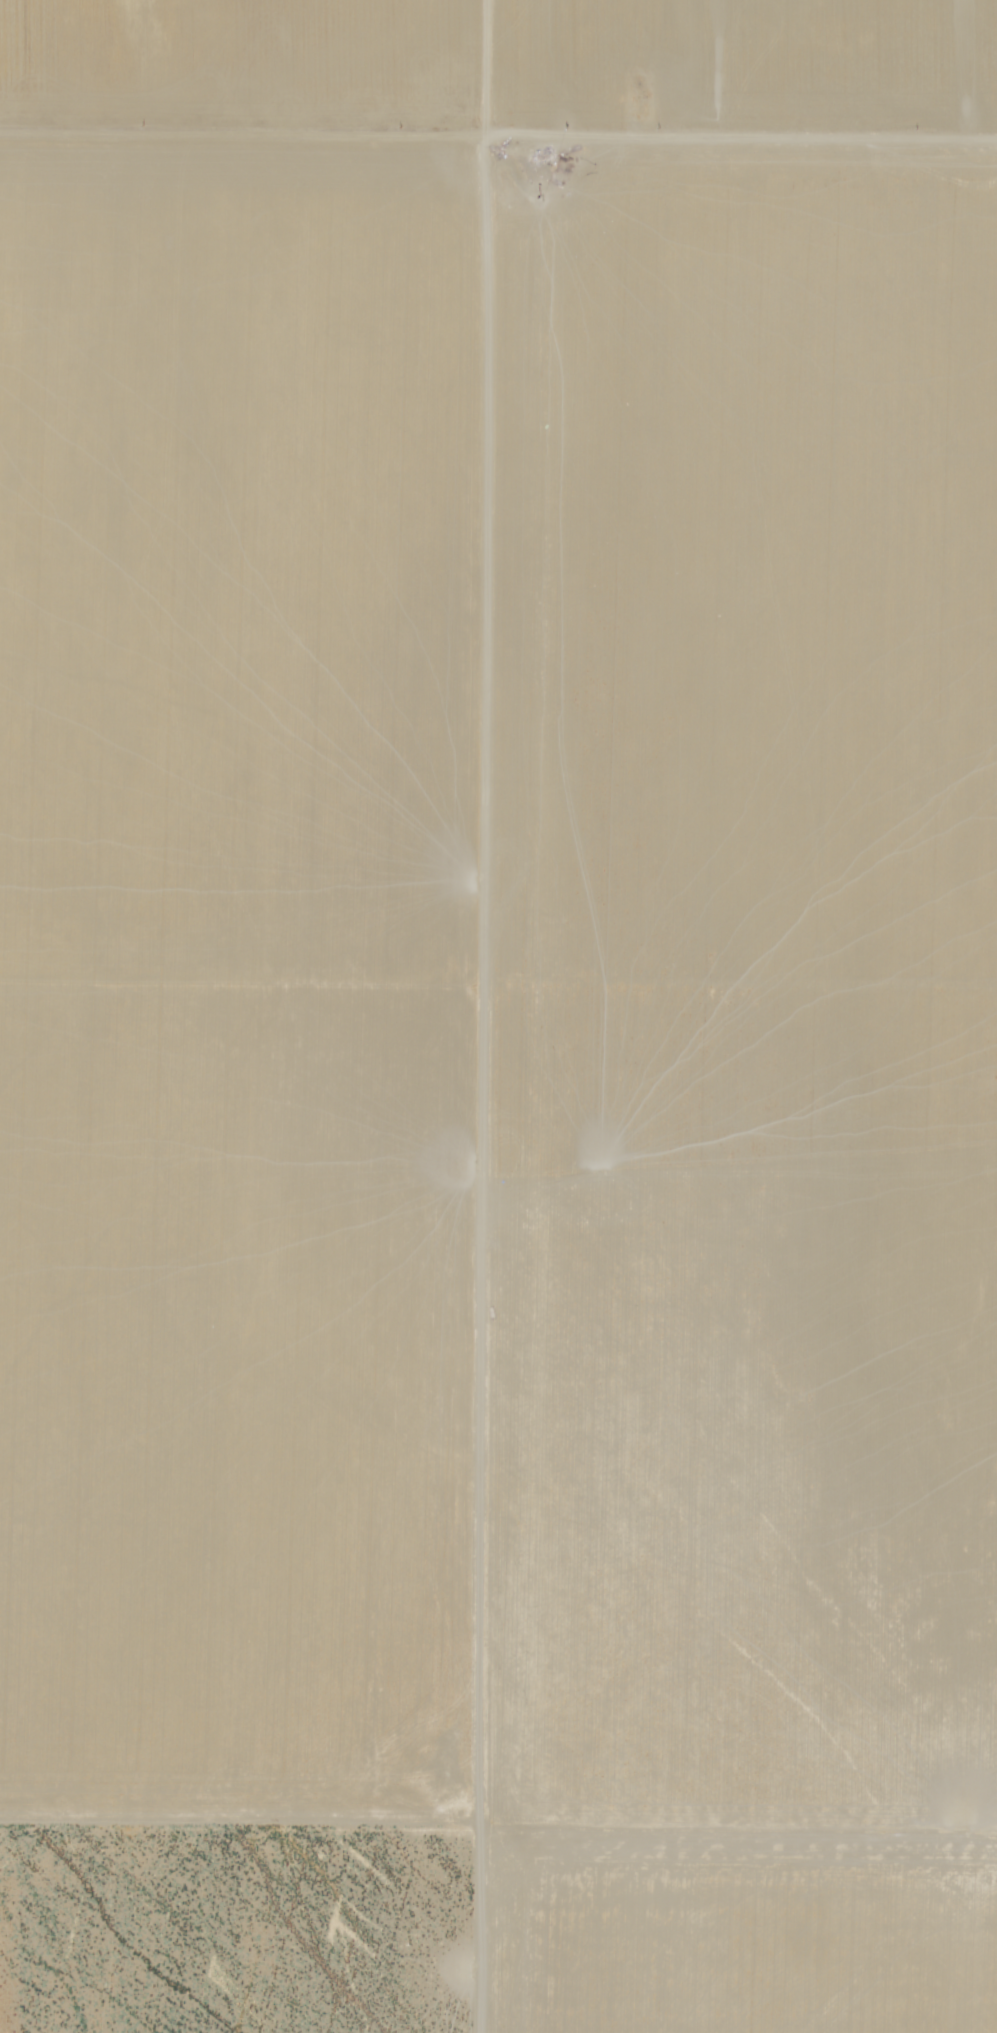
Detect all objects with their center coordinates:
road: (574, 75)
road: (498, 150)
road: (498, 1850)
road: (563, 1942)

